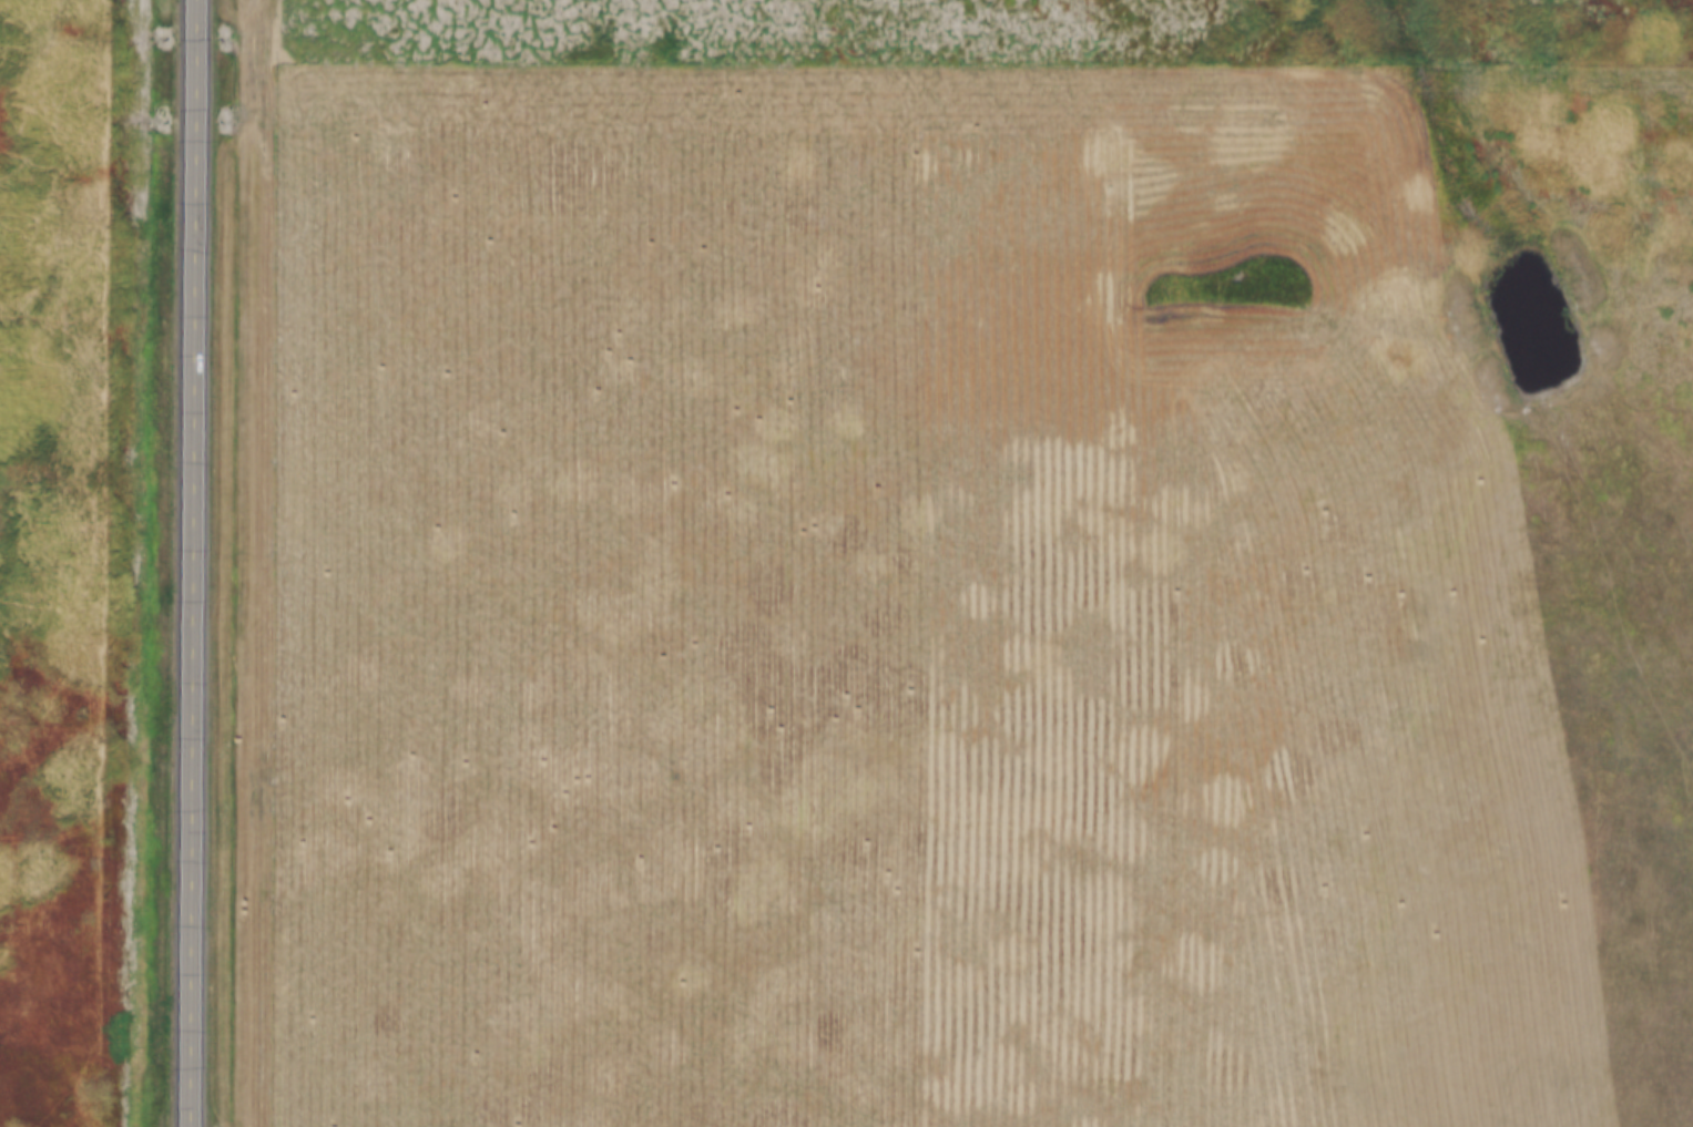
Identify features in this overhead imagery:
road: (197, 563)

